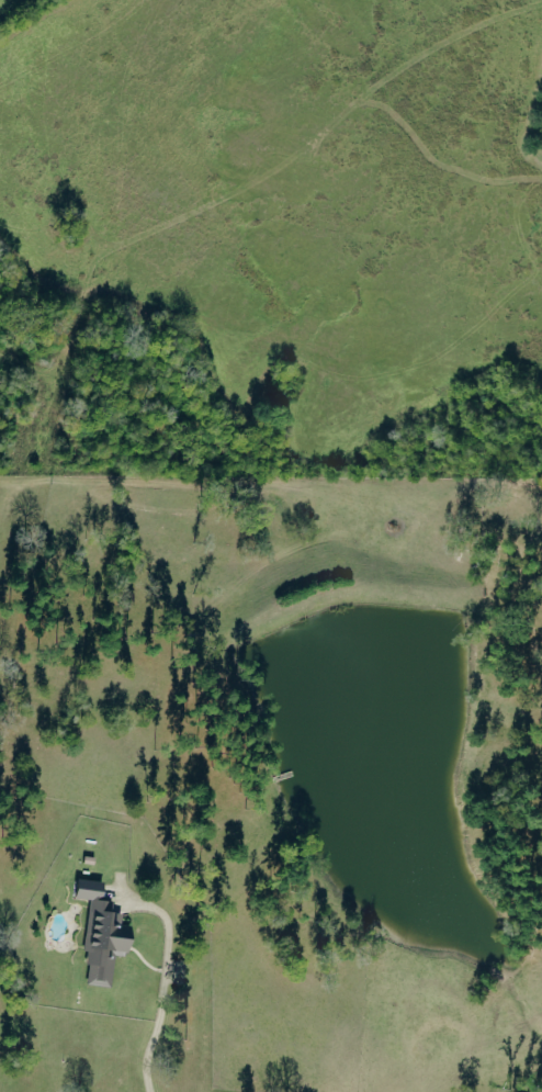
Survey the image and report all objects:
road: (310, 279)
building: (104, 935)

